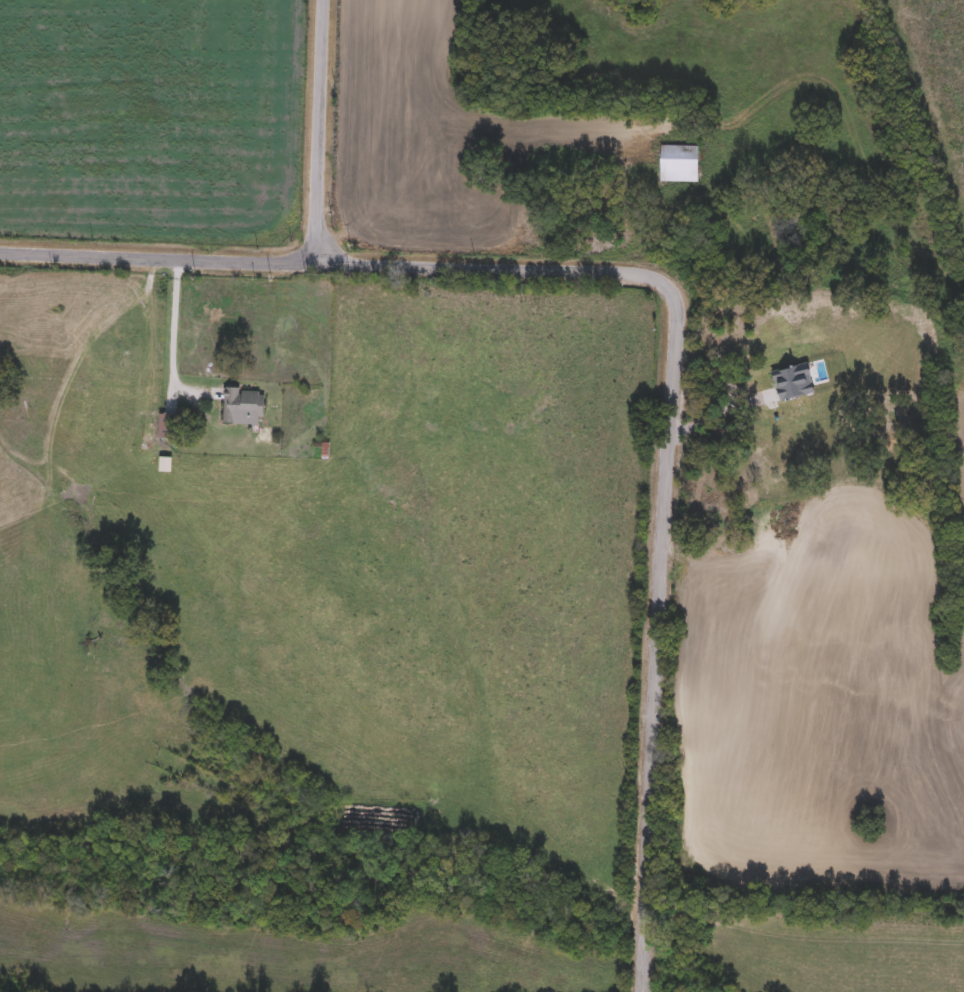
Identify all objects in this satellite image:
road: (318, 131)
building: (679, 164)
road: (157, 256)
road: (172, 330)
building: (243, 408)
road: (714, 418)
road: (667, 463)

